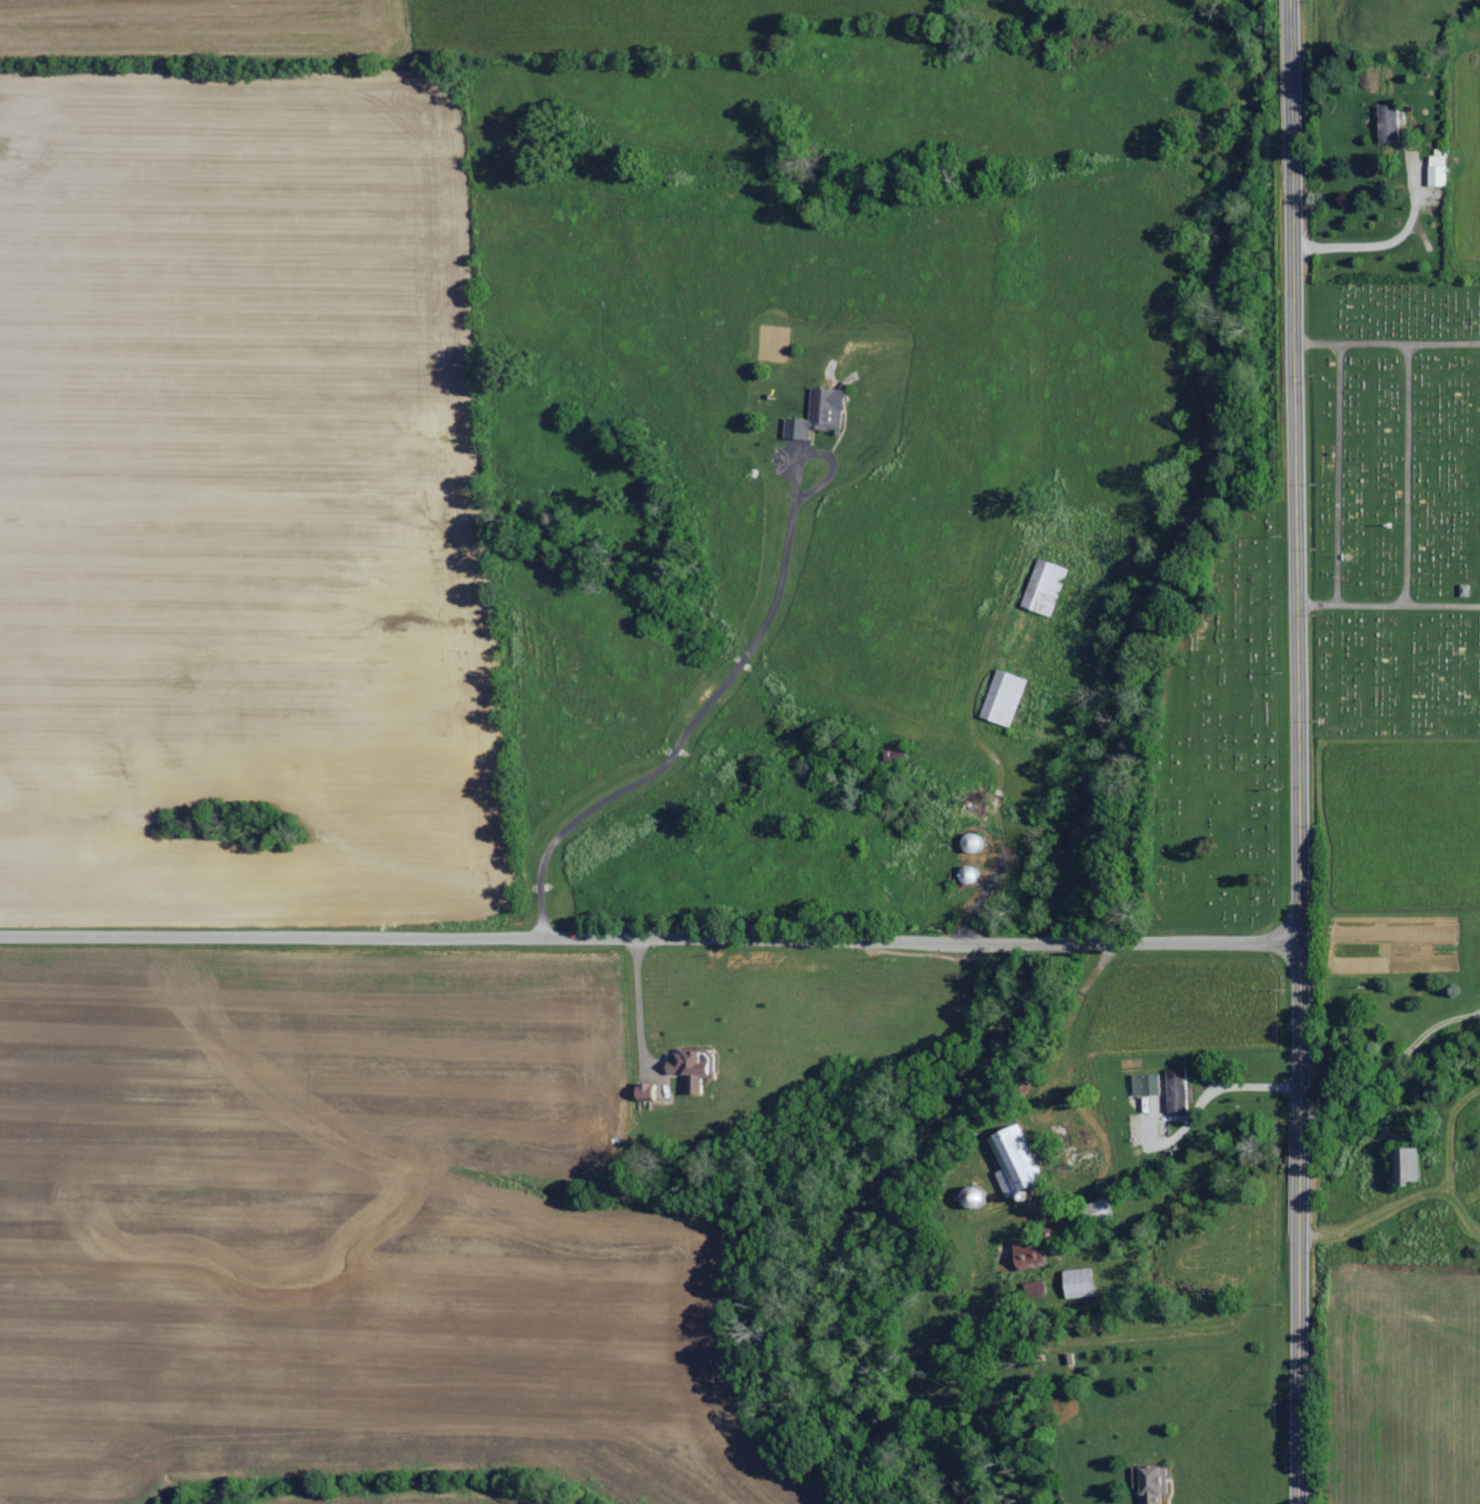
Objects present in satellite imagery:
building: (1387, 123)
road: (1289, 169)
building: (1436, 170)
road: (1382, 246)
road: (1385, 340)
building: (820, 412)
road: (1292, 469)
road: (1406, 473)
park: (1396, 508)
building: (1044, 587)
road: (1387, 604)
building: (1003, 698)
park: (1219, 747)
building: (972, 842)
river: (1074, 842)
road: (992, 843)
road: (740, 938)
road: (1392, 1048)
road: (1299, 1052)
building: (1145, 1084)
road: (1101, 1087)
building: (1176, 1089)
building: (644, 1091)
road: (1035, 1120)
building: (1013, 1157)
building: (1407, 1163)
building: (1026, 1255)
building: (1077, 1282)
building: (1150, 1483)

